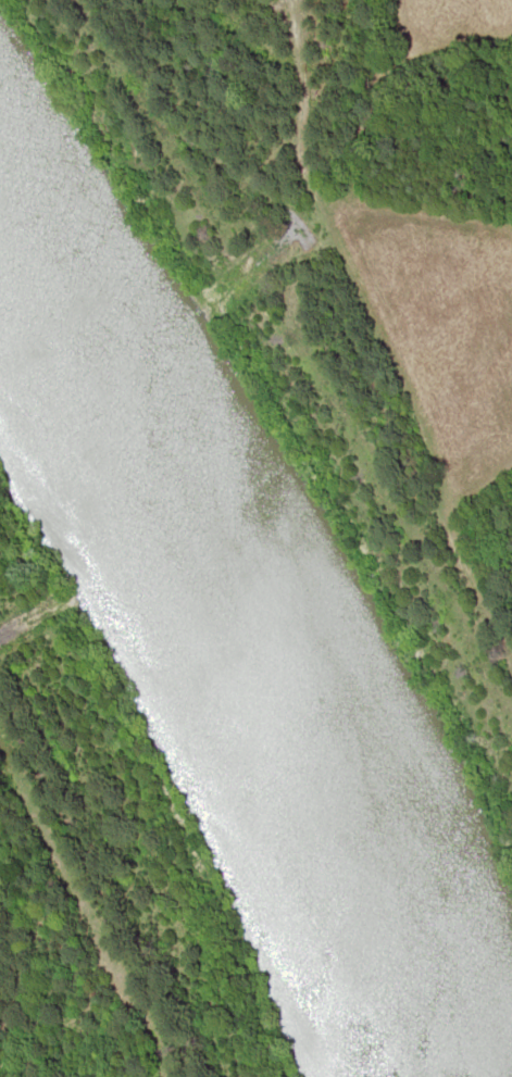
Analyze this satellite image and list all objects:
road: (483, 84)

